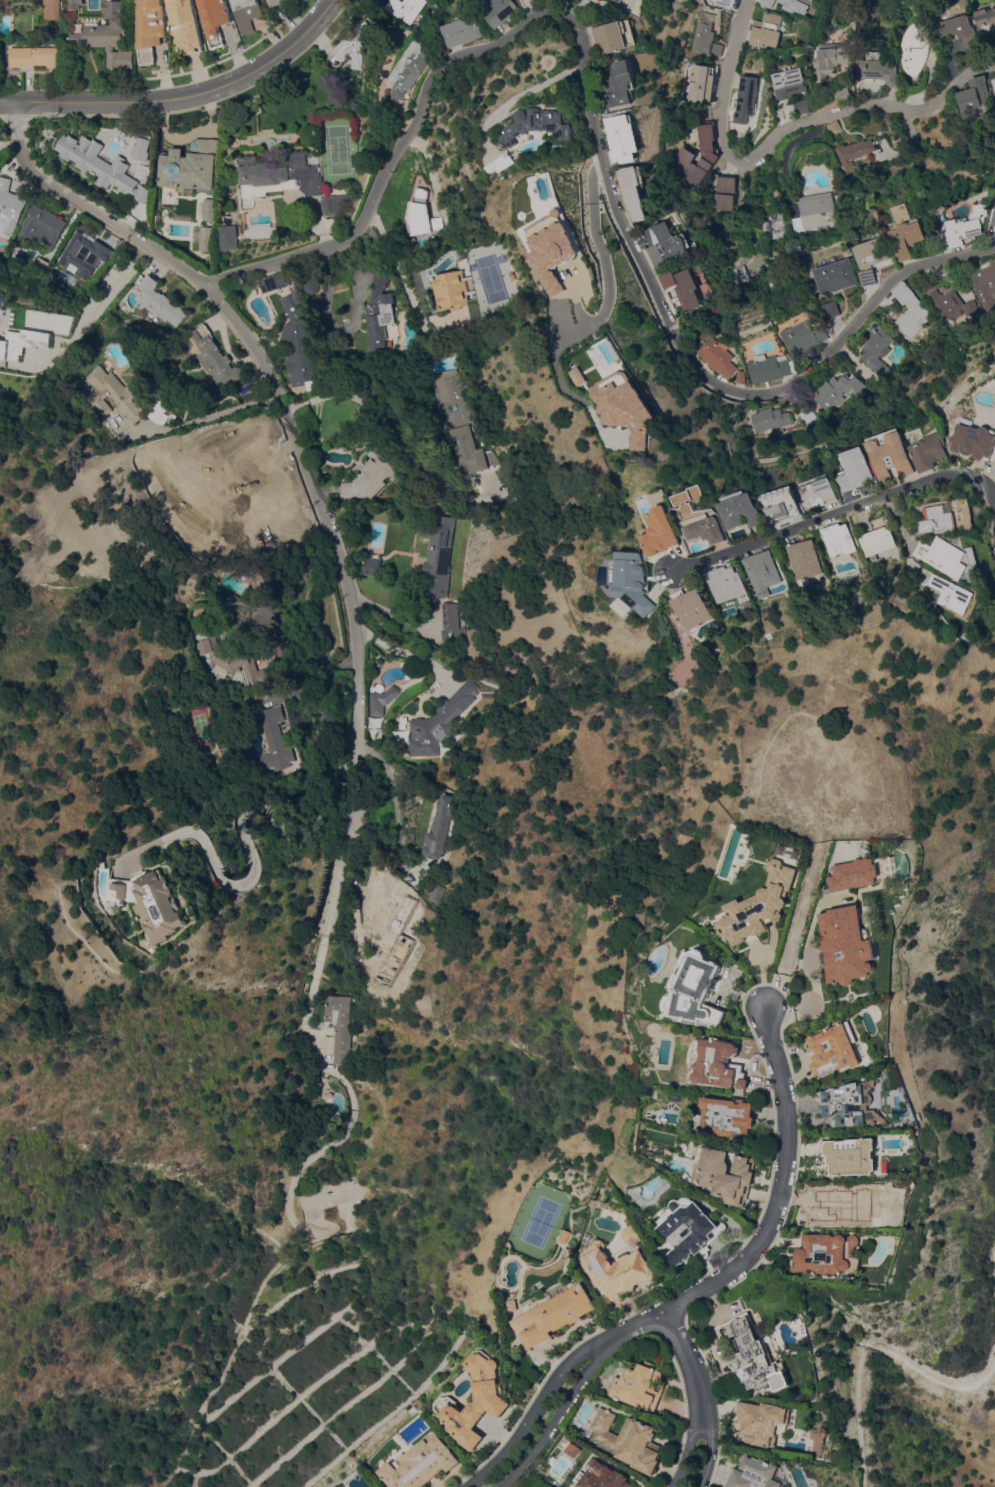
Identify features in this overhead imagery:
building: (628, 0)
building: (3, 2)
building: (273, 3)
building: (726, 3)
building: (766, 3)
building: (75, 4)
building: (794, 7)
building: (50, 9)
building: (408, 9)
building: (505, 11)
building: (245, 14)
building: (985, 18)
building: (214, 19)
building: (185, 25)
building: (108, 27)
building: (150, 29)
building: (467, 30)
building: (765, 30)
building: (957, 30)
building: (707, 36)
building: (619, 37)
building: (350, 47)
building: (914, 49)
building: (35, 57)
building: (120, 60)
building: (830, 61)
building: (411, 68)
building: (877, 70)
building: (994, 80)
building: (789, 83)
building: (702, 84)
building: (627, 85)
road: (529, 93)
road: (191, 95)
building: (843, 95)
building: (974, 97)
building: (744, 102)
building: (801, 107)
building: (545, 124)
building: (833, 128)
road: (782, 130)
road: (604, 136)
building: (629, 139)
building: (138, 150)
building: (856, 153)
building: (687, 155)
building: (509, 163)
building: (100, 164)
building: (190, 168)
building: (279, 176)
building: (637, 191)
building: (722, 192)
building: (332, 204)
building: (10, 205)
building: (208, 210)
building: (813, 212)
building: (424, 215)
building: (994, 223)
building: (41, 226)
building: (773, 226)
building: (967, 228)
building: (906, 232)
building: (210, 235)
building: (228, 238)
building: (666, 244)
building: (938, 245)
building: (82, 253)
building: (561, 254)
building: (873, 258)
building: (39, 265)
building: (737, 275)
building: (518, 276)
building: (835, 277)
building: (274, 283)
building: (987, 284)
road: (613, 288)
building: (682, 288)
building: (462, 293)
building: (160, 302)
road: (101, 304)
building: (955, 304)
building: (831, 310)
building: (913, 311)
building: (380, 312)
road: (329, 320)
building: (32, 334)
building: (803, 337)
building: (297, 345)
building: (10, 346)
building: (876, 351)
building: (717, 357)
building: (214, 358)
building: (769, 368)
building: (739, 377)
building: (838, 391)
building: (117, 394)
road: (277, 402)
building: (632, 411)
building: (162, 413)
road: (215, 415)
building: (769, 419)
building: (464, 420)
road: (398, 431)
building: (975, 442)
building: (928, 449)
building: (890, 455)
building: (855, 470)
building: (370, 475)
building: (820, 490)
building: (740, 510)
building: (464, 513)
road: (835, 515)
building: (946, 516)
building: (709, 528)
building: (665, 531)
road: (904, 536)
building: (838, 540)
building: (878, 541)
building: (438, 556)
building: (947, 557)
building: (803, 561)
building: (371, 565)
building: (761, 572)
building: (259, 579)
building: (726, 582)
building: (635, 584)
building: (952, 596)
building: (692, 607)
road: (390, 613)
building: (450, 624)
road: (302, 645)
building: (229, 656)
building: (682, 672)
building: (380, 700)
building: (437, 722)
building: (273, 740)
road: (394, 806)
building: (442, 821)
road: (244, 827)
building: (100, 866)
building: (853, 875)
building: (117, 887)
building: (436, 893)
building: (759, 905)
building: (159, 906)
building: (391, 919)
road: (321, 937)
building: (847, 945)
road: (812, 966)
building: (372, 988)
building: (697, 988)
building: (337, 1024)
building: (834, 1048)
building: (718, 1065)
building: (851, 1104)
building: (727, 1117)
building: (851, 1156)
building: (724, 1174)
road: (771, 1217)
building: (689, 1230)
building: (632, 1234)
building: (830, 1254)
building: (617, 1270)
building: (555, 1315)
road: (866, 1339)
road: (681, 1349)
building: (754, 1355)
building: (639, 1386)
building: (493, 1402)
road: (532, 1410)
road: (554, 1418)
building: (764, 1422)
road: (707, 1437)
road: (690, 1438)
building: (627, 1440)
building: (421, 1463)
building: (758, 1474)
building: (600, 1476)

